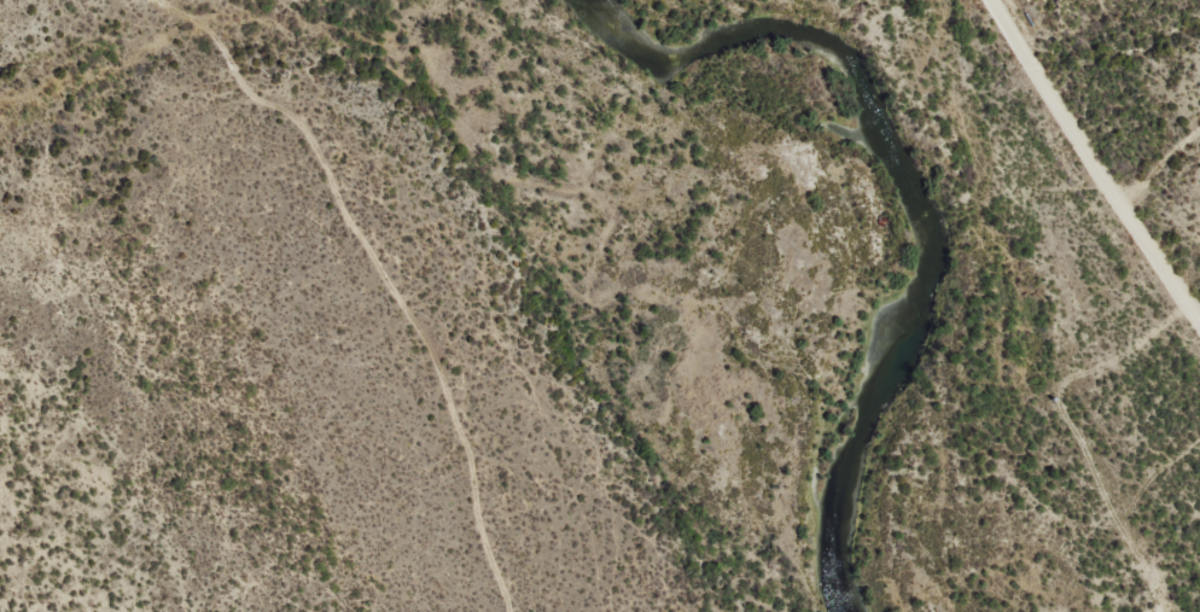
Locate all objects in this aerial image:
river: (905, 183)
road: (1097, 191)

